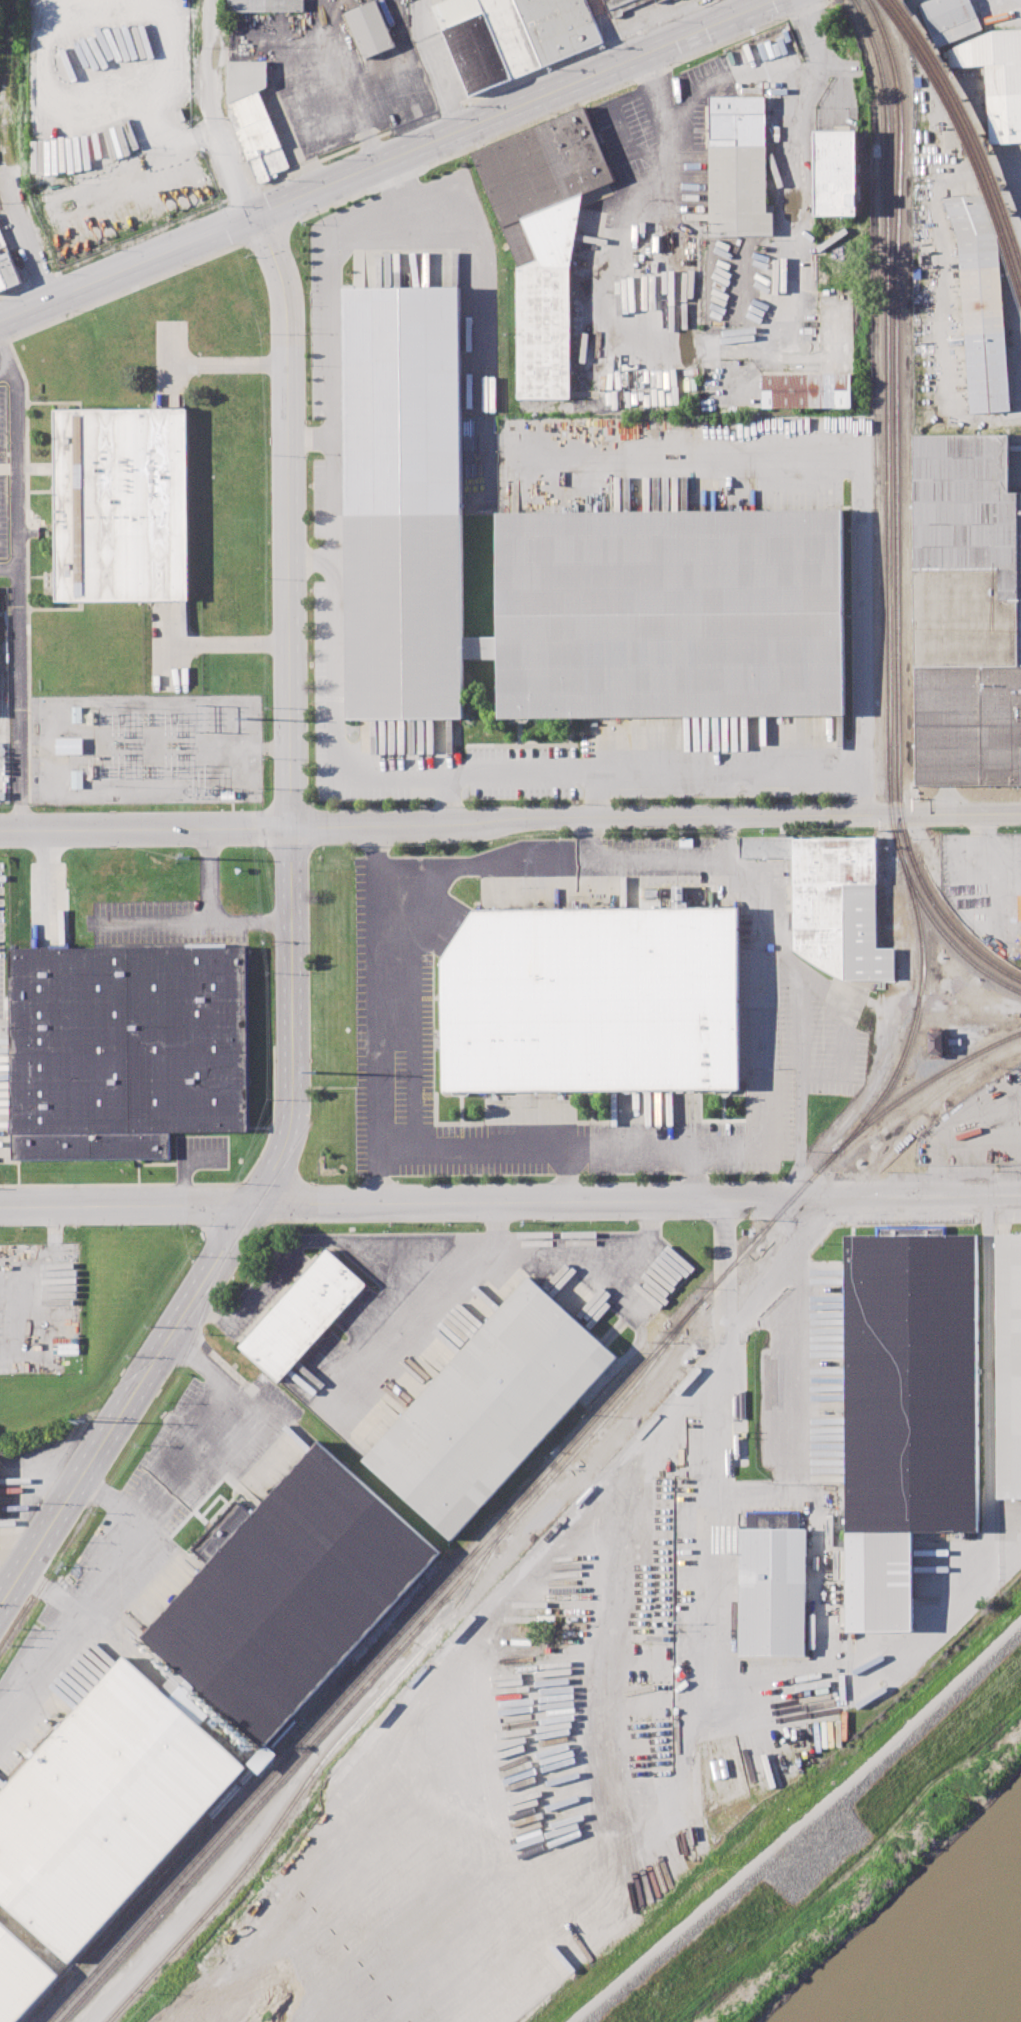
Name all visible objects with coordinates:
building: (659, 1)
building: (620, 5)
building: (266, 6)
building: (950, 19)
building: (559, 26)
building: (370, 28)
road: (607, 32)
building: (512, 35)
building: (472, 43)
road: (5, 61)
road: (438, 66)
building: (997, 78)
road: (220, 111)
building: (254, 119)
railway: (970, 119)
road: (797, 124)
road: (619, 125)
railway: (966, 132)
road: (10, 153)
road: (389, 162)
building: (737, 168)
building: (835, 172)
road: (642, 198)
road: (404, 199)
road: (406, 211)
traffic signals: (259, 217)
building: (543, 236)
building: (7, 268)
road: (55, 272)
road: (39, 278)
road: (14, 288)
building: (981, 305)
building: (401, 324)
road: (226, 365)
railway: (886, 375)
railway: (895, 375)
building: (807, 389)
road: (310, 438)
parking lot: (3, 478)
building: (122, 504)
road: (311, 562)
road: (17, 580)
road: (333, 596)
building: (964, 615)
building: (669, 616)
building: (404, 618)
road: (227, 644)
road: (289, 650)
power tower: (201, 719)
power tower: (245, 719)
building: (68, 745)
power substation: (147, 748)
road: (751, 770)
power tower: (204, 792)
road: (446, 798)
road: (510, 822)
road: (726, 844)
road: (634, 867)
railway: (924, 888)
railway: (917, 896)
building: (661, 897)
building: (834, 902)
road: (210, 914)
road: (159, 923)
parking lot: (1, 952)
road: (376, 986)
building: (589, 1001)
railway: (915, 1014)
road: (758, 1030)
building: (935, 1042)
building: (126, 1049)
railway: (941, 1056)
power tower: (316, 1073)
railway: (923, 1084)
road: (534, 1148)
road: (567, 1175)
railway: (814, 1176)
road: (638, 1203)
road: (127, 1206)
road: (420, 1240)
railway: (745, 1250)
road: (425, 1311)
building: (302, 1314)
railway: (190, 1318)
road: (160, 1352)
building: (1009, 1364)
railway: (628, 1380)
railway: (634, 1386)
building: (486, 1409)
building: (907, 1411)
road: (206, 1420)
power tower: (87, 1422)
railway: (123, 1457)
road: (108, 1560)
road: (698, 1585)
building: (772, 1585)
building: (286, 1594)
road: (39, 1660)
railway: (302, 1740)
railway: (311, 1743)
building: (262, 1758)
railway: (311, 1777)
railway: (238, 1788)
building: (101, 1806)
road: (799, 1824)
road: (414, 1952)
river: (977, 1977)
building: (20, 1978)
building: (330, 1990)

